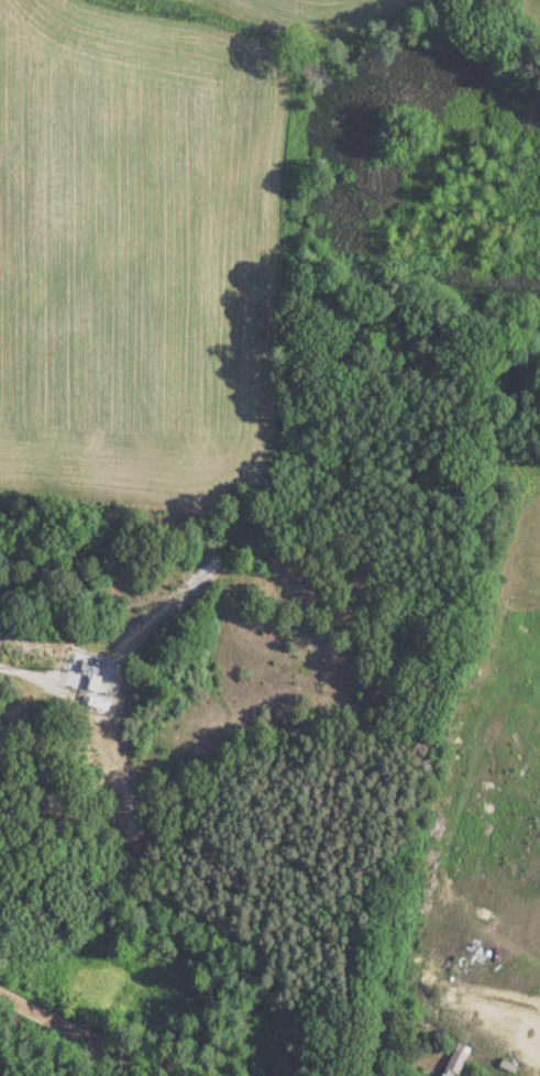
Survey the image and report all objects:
building: (103, 688)
road: (81, 1034)
building: (454, 1061)

